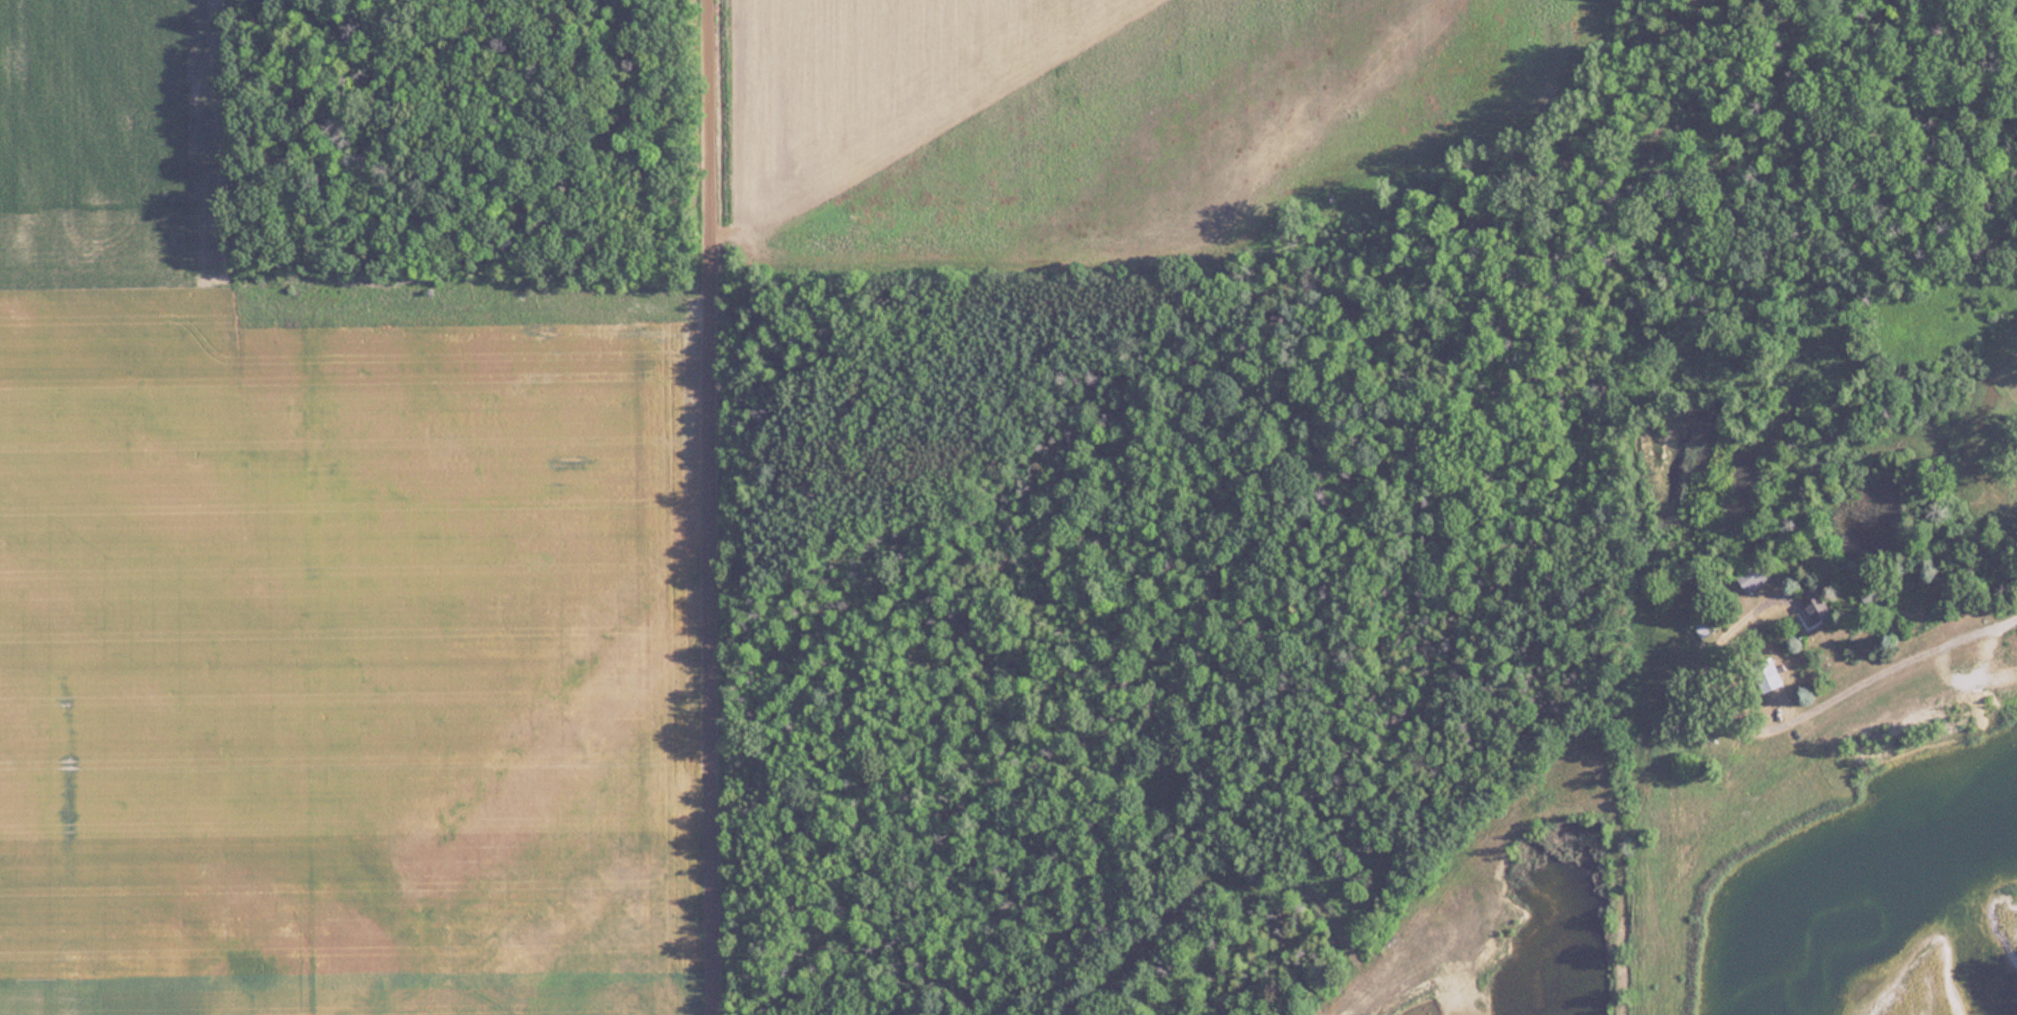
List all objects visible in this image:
road: (713, 507)
building: (1753, 574)
building: (1815, 602)
road: (1891, 663)
building: (1766, 674)

